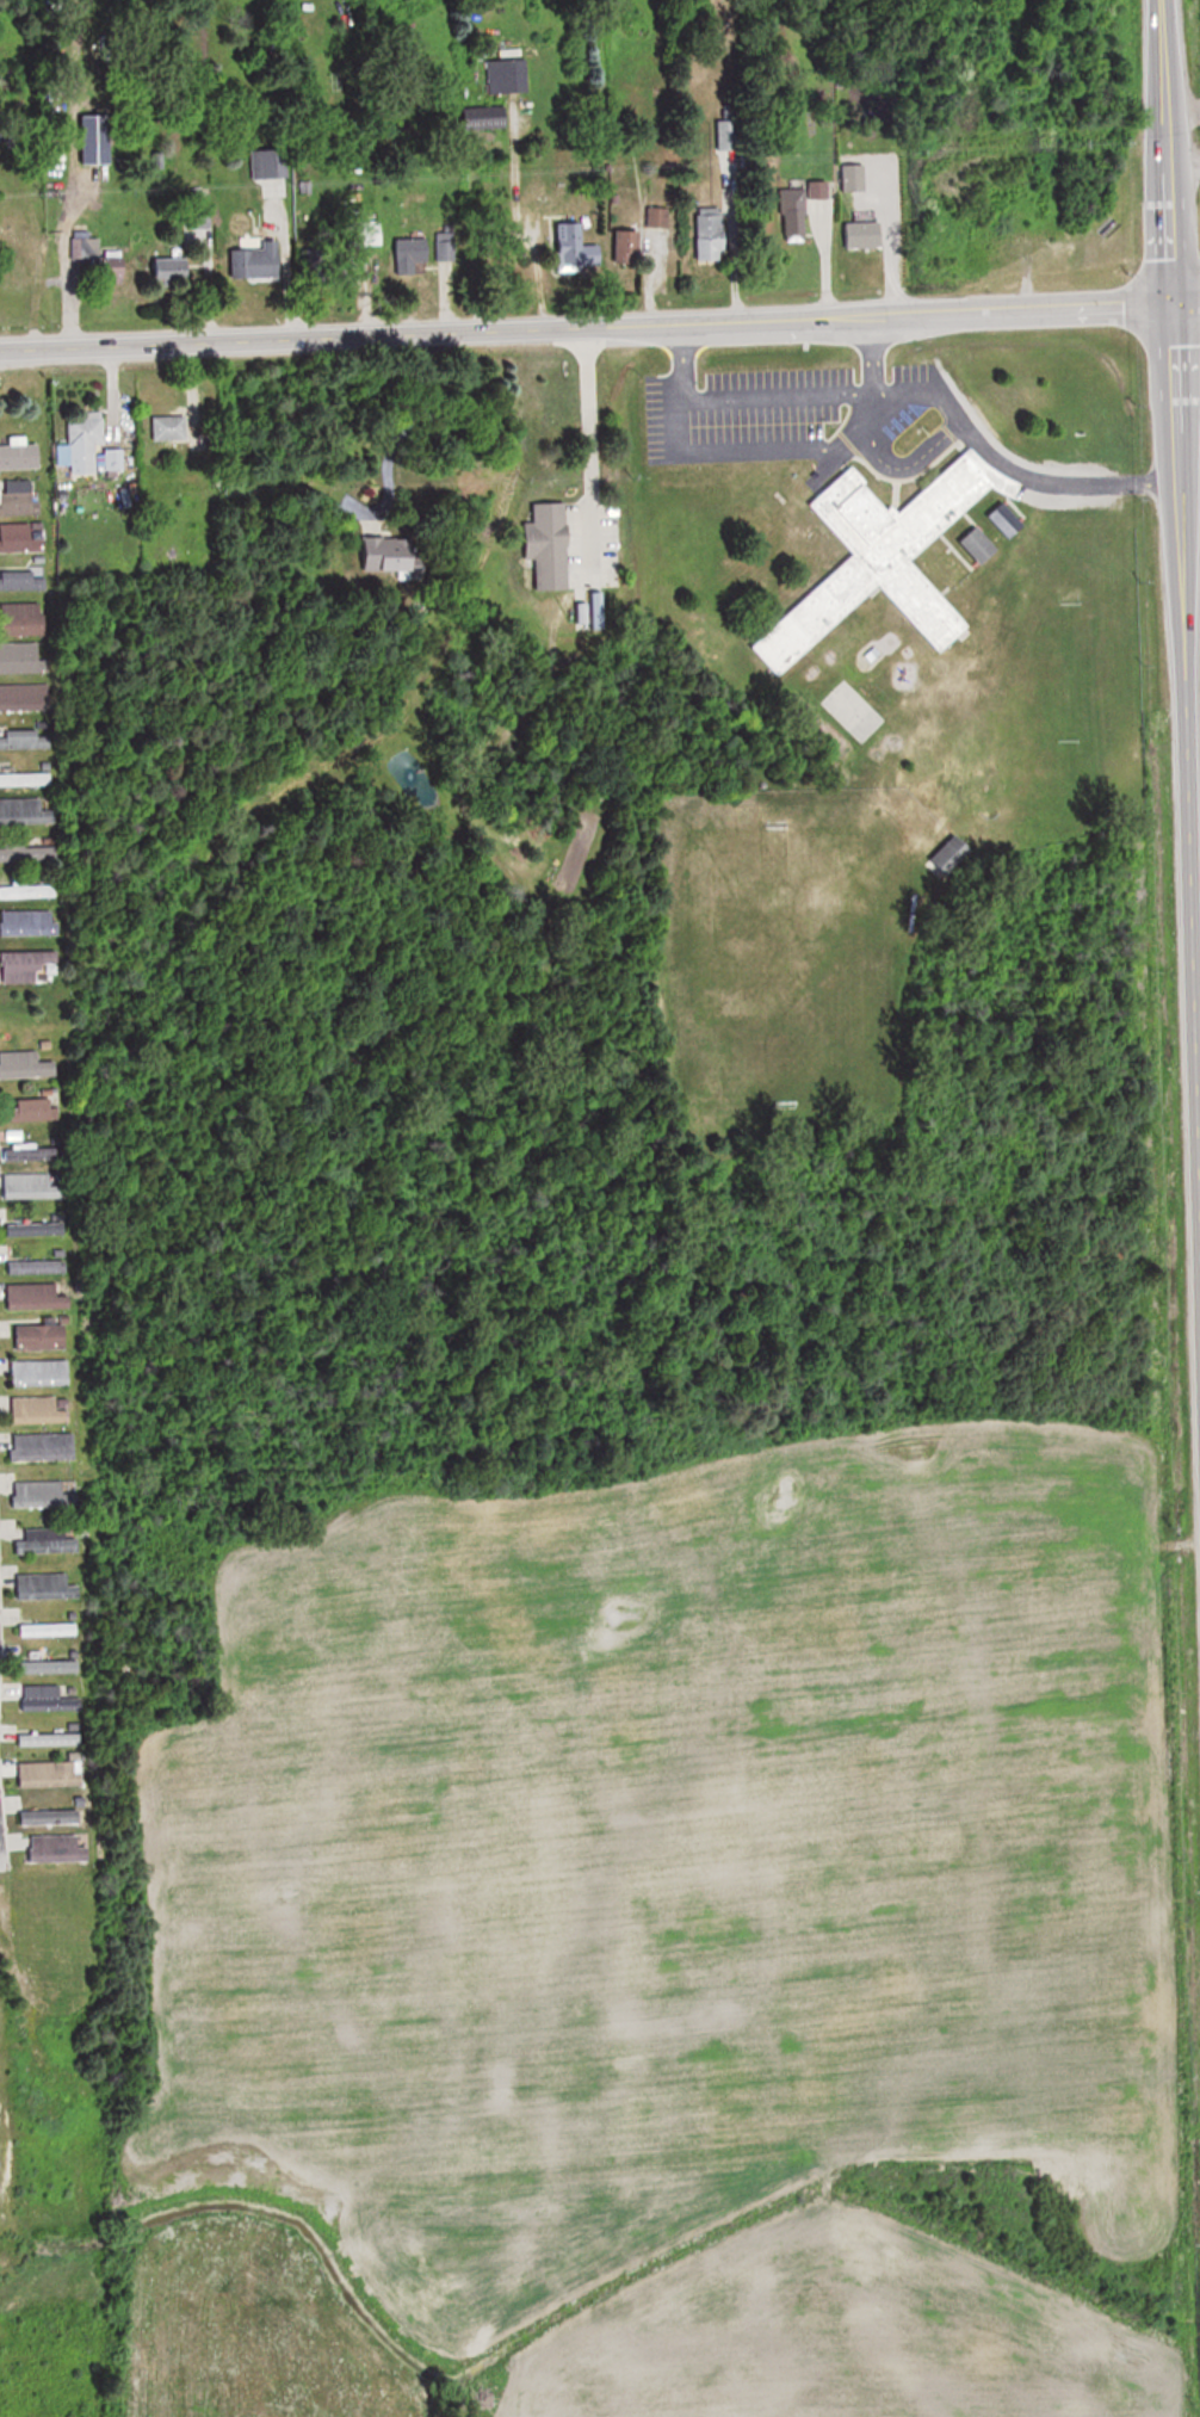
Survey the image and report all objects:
building: (509, 74)
road: (1180, 112)
building: (488, 116)
road: (1181, 161)
building: (267, 162)
building: (792, 210)
building: (658, 216)
building: (713, 234)
building: (81, 246)
building: (577, 246)
building: (629, 246)
building: (413, 253)
building: (258, 264)
building: (320, 266)
building: (175, 267)
building: (117, 268)
road: (600, 328)
road: (870, 354)
road: (679, 364)
road: (775, 397)
building: (171, 427)
building: (89, 450)
road: (765, 451)
road: (588, 453)
building: (20, 458)
road: (1008, 463)
building: (19, 497)
building: (24, 542)
building: (550, 544)
building: (391, 556)
building: (885, 560)
building: (21, 579)
building: (21, 619)
building: (21, 657)
building: (23, 697)
road: (1179, 723)
building: (19, 738)
building: (23, 778)
building: (20, 811)
building: (25, 853)
building: (25, 891)
building: (27, 922)
building: (25, 966)
building: (26, 1064)
road: (406, 1104)
building: (32, 1107)
building: (32, 1152)
building: (32, 1185)
building: (33, 1229)
building: (32, 1266)
building: (35, 1297)
building: (39, 1336)
building: (41, 1373)
building: (43, 1410)
building: (44, 1448)
building: (45, 1494)
building: (49, 1543)
building: (47, 1587)
building: (50, 1630)
building: (51, 1667)
building: (48, 1698)
building: (49, 1739)
building: (51, 1774)
building: (51, 1816)
building: (60, 1849)

